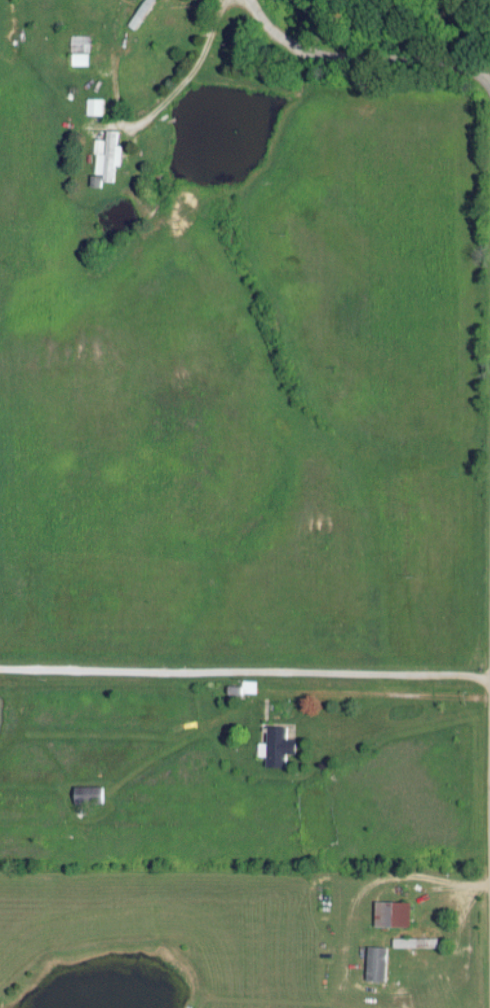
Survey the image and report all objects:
building: (143, 13)
building: (82, 49)
road: (363, 53)
building: (97, 106)
building: (108, 154)
building: (275, 745)
building: (390, 912)
building: (402, 941)
building: (373, 962)

